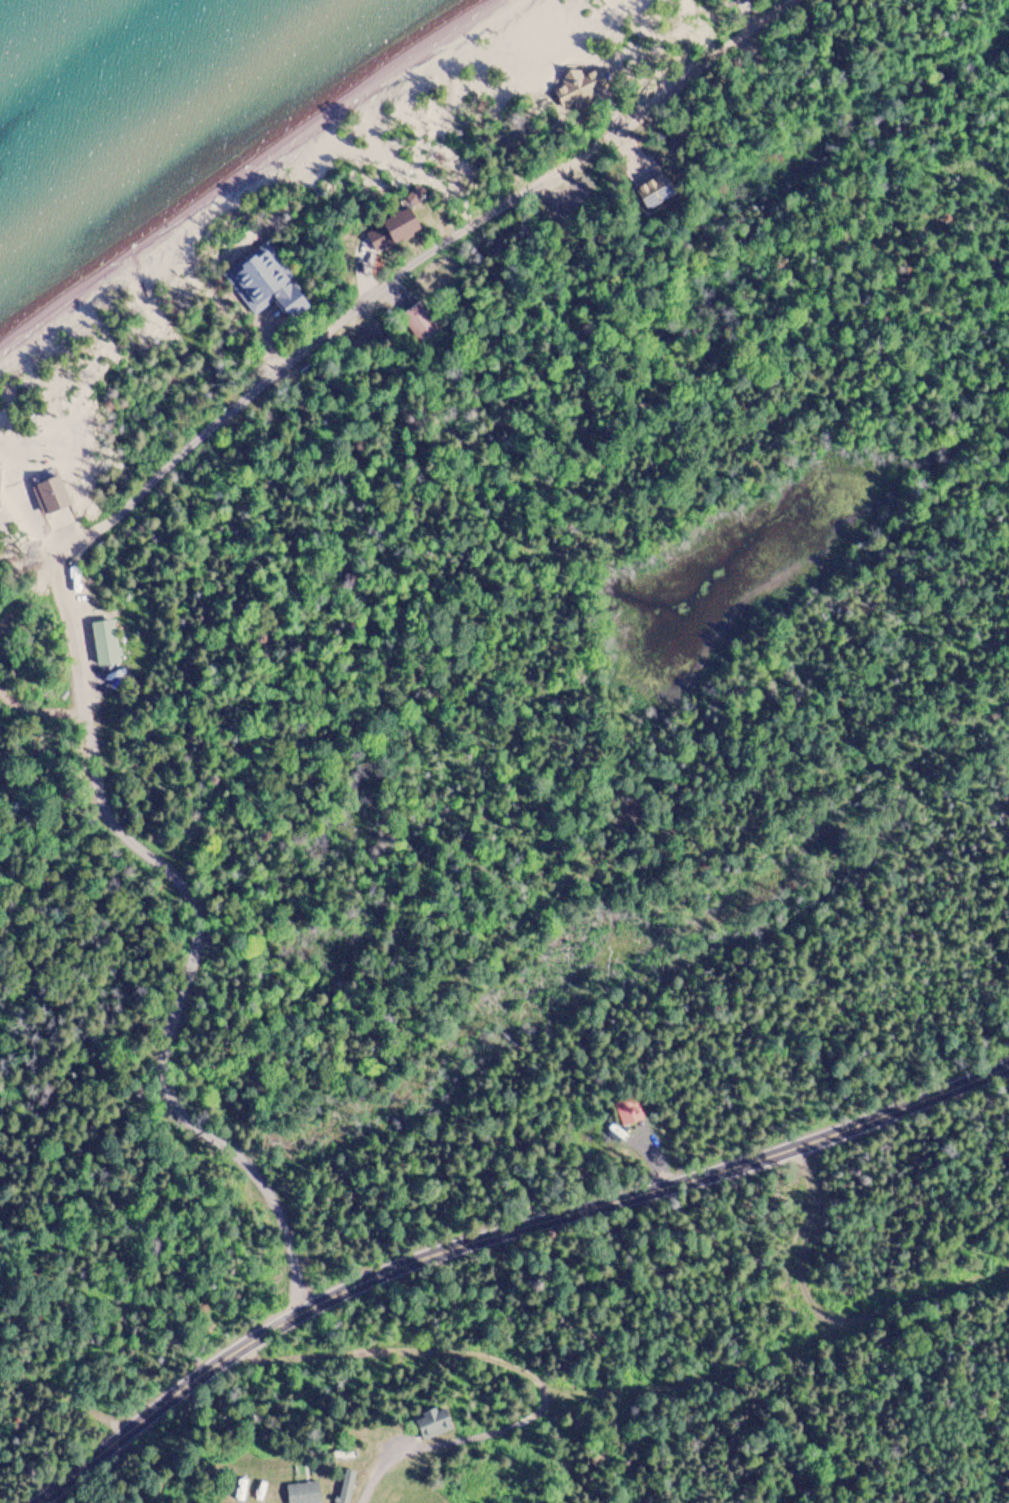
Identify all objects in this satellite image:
road: (576, 146)
building: (404, 230)
building: (263, 281)
road: (186, 448)
building: (50, 495)
building: (102, 642)
road: (193, 938)
building: (628, 1110)
road: (497, 1233)
road: (705, 1370)
building: (346, 1452)
road: (373, 1474)
building: (345, 1486)
building: (303, 1492)

